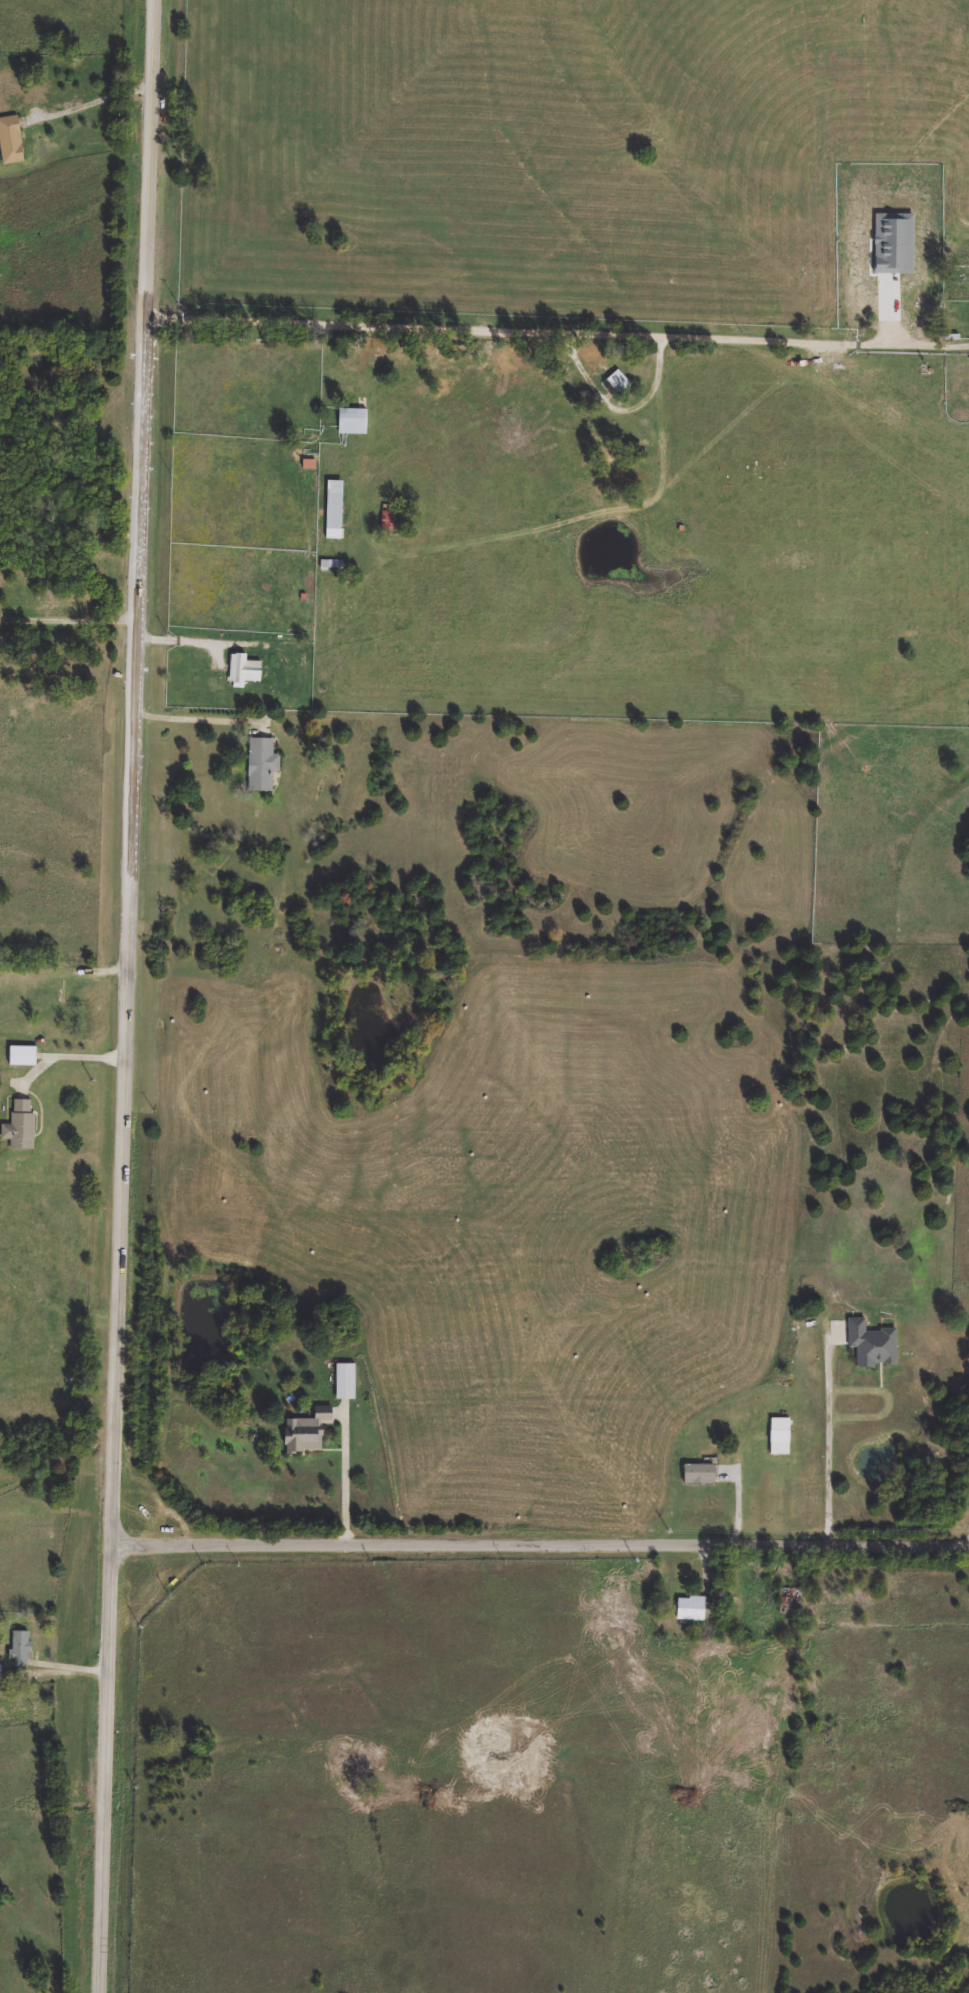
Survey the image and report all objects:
road: (97, 99)
building: (11, 141)
building: (898, 245)
building: (892, 302)
road: (538, 324)
road: (946, 338)
building: (620, 383)
building: (354, 422)
building: (335, 510)
building: (393, 519)
road: (72, 611)
building: (247, 671)
road: (203, 712)
building: (263, 764)
road: (133, 996)
road: (89, 1049)
building: (24, 1057)
building: (22, 1126)
road: (55, 1309)
building: (838, 1335)
building: (873, 1345)
building: (347, 1382)
building: (308, 1432)
building: (781, 1436)
road: (831, 1444)
building: (700, 1475)
road: (348, 1477)
road: (741, 1500)
road: (543, 1538)
building: (791, 1602)
building: (694, 1608)
building: (22, 1649)
road: (77, 1663)
building: (1, 1674)

